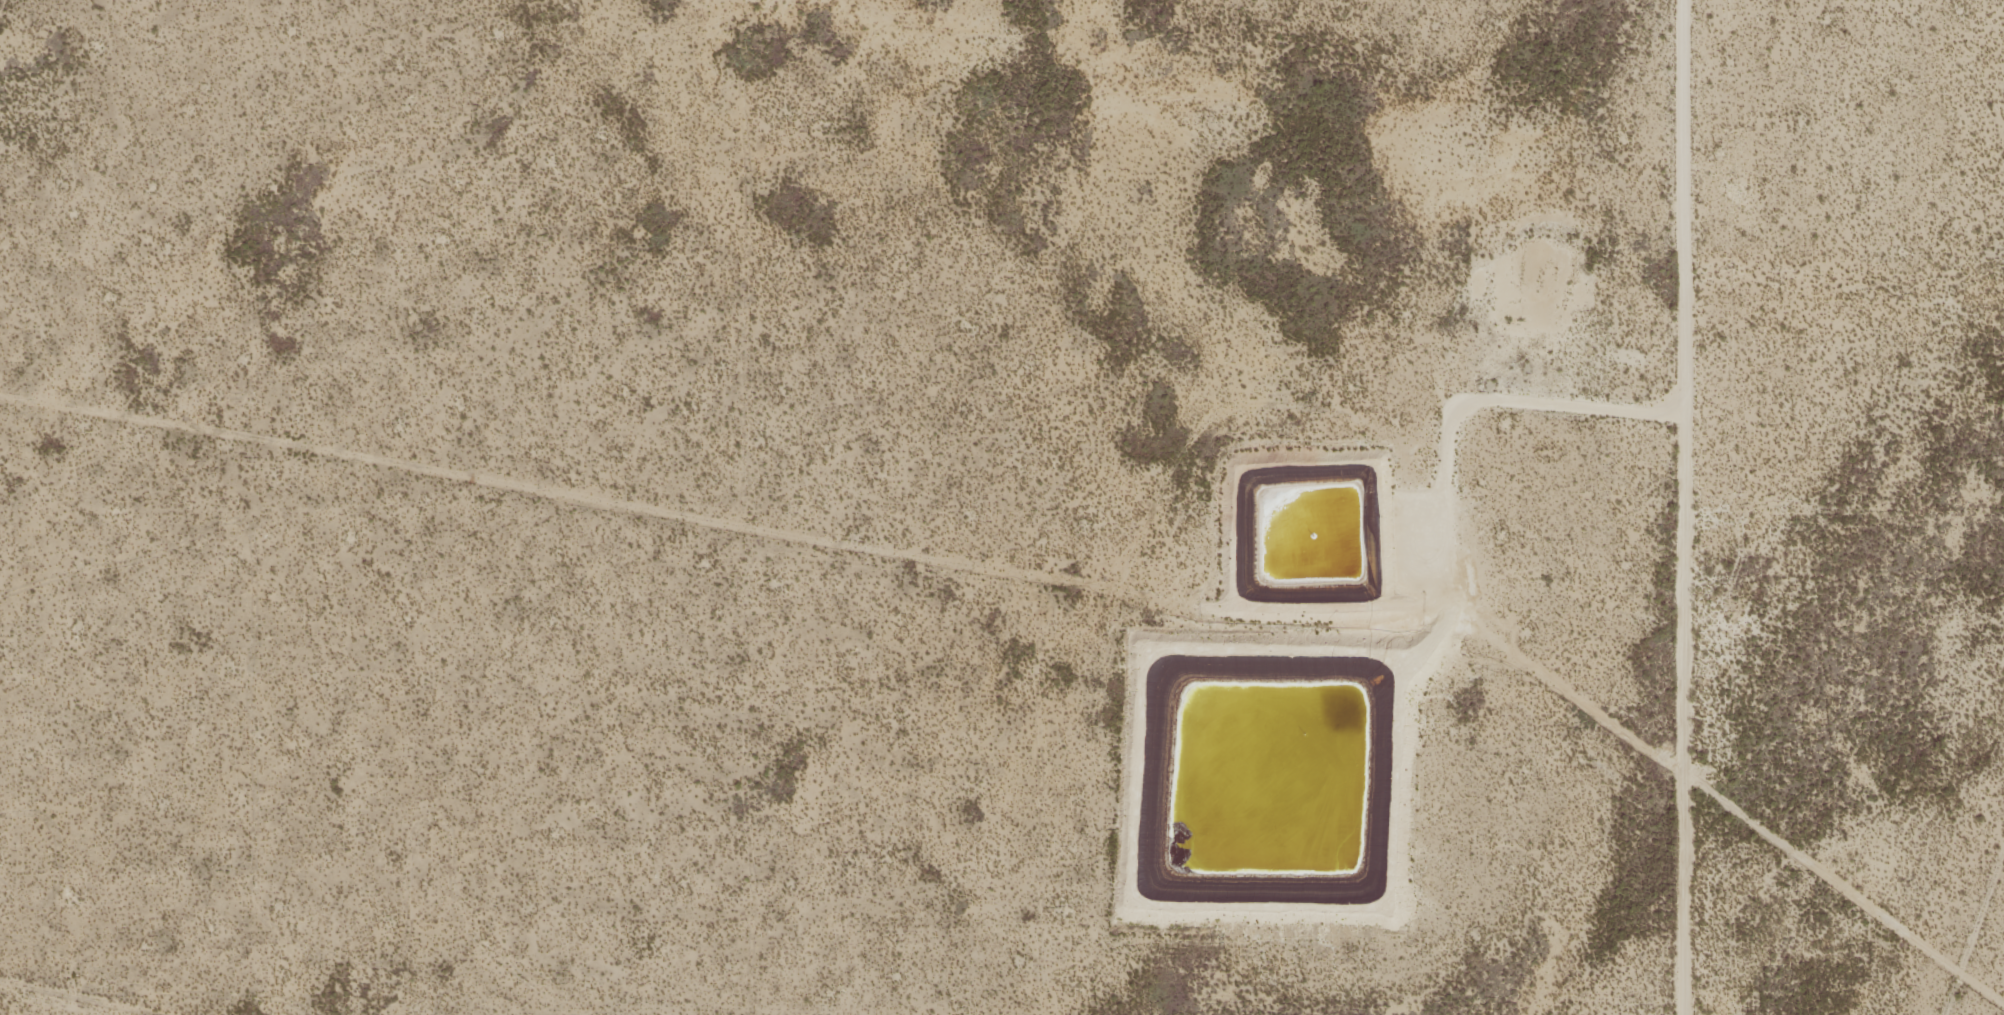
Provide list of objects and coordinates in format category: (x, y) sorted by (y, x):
road: (1643, 507)

